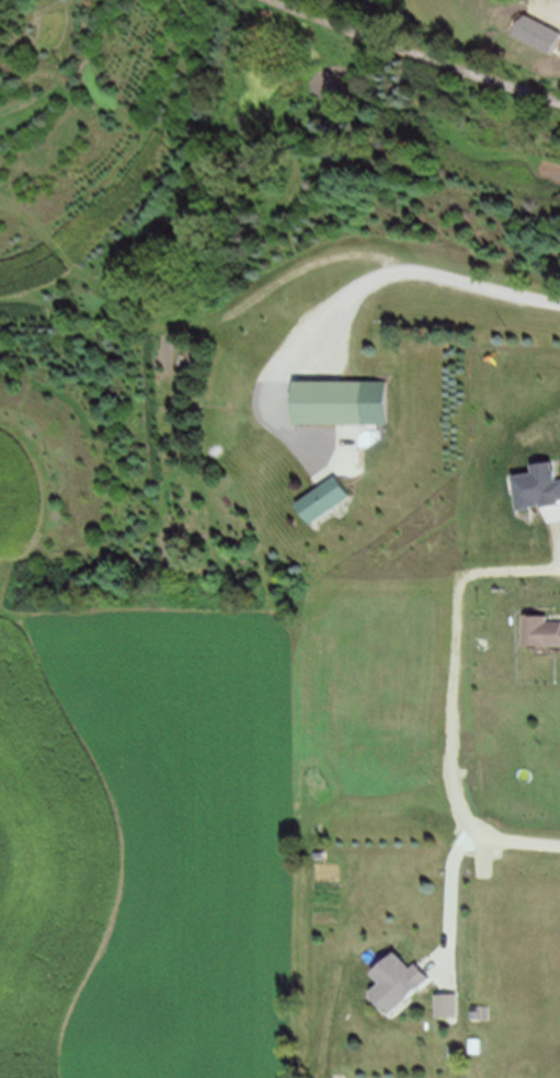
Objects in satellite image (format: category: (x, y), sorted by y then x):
road: (430, 49)
road: (354, 298)
building: (334, 404)
building: (329, 505)
building: (546, 630)
road: (235, 849)
road: (464, 863)
building: (411, 986)
building: (450, 1004)

